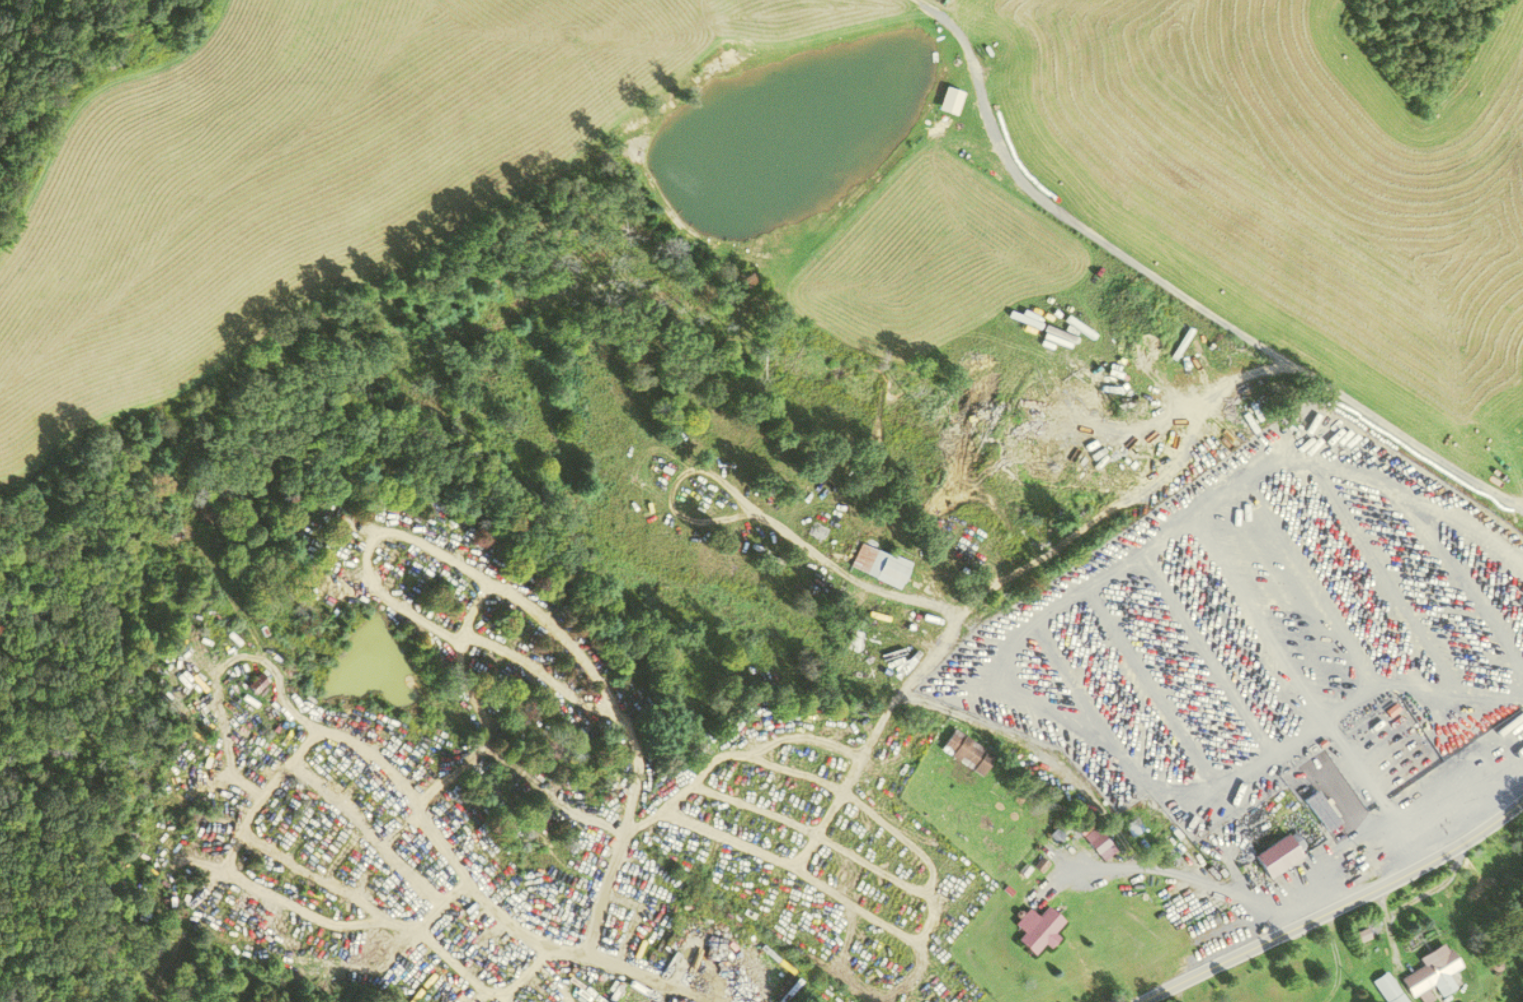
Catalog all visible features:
building: (949, 100)
building: (879, 565)
building: (256, 683)
building: (966, 752)
building: (1132, 828)
road: (440, 845)
building: (1278, 855)
road: (1334, 905)
building: (1041, 932)
building: (1432, 975)
building: (1386, 989)

